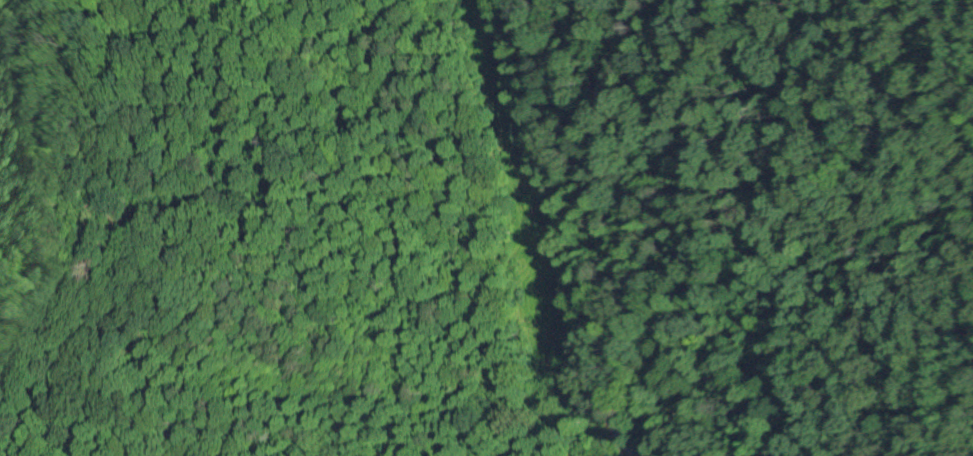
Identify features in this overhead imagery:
road: (565, 230)

